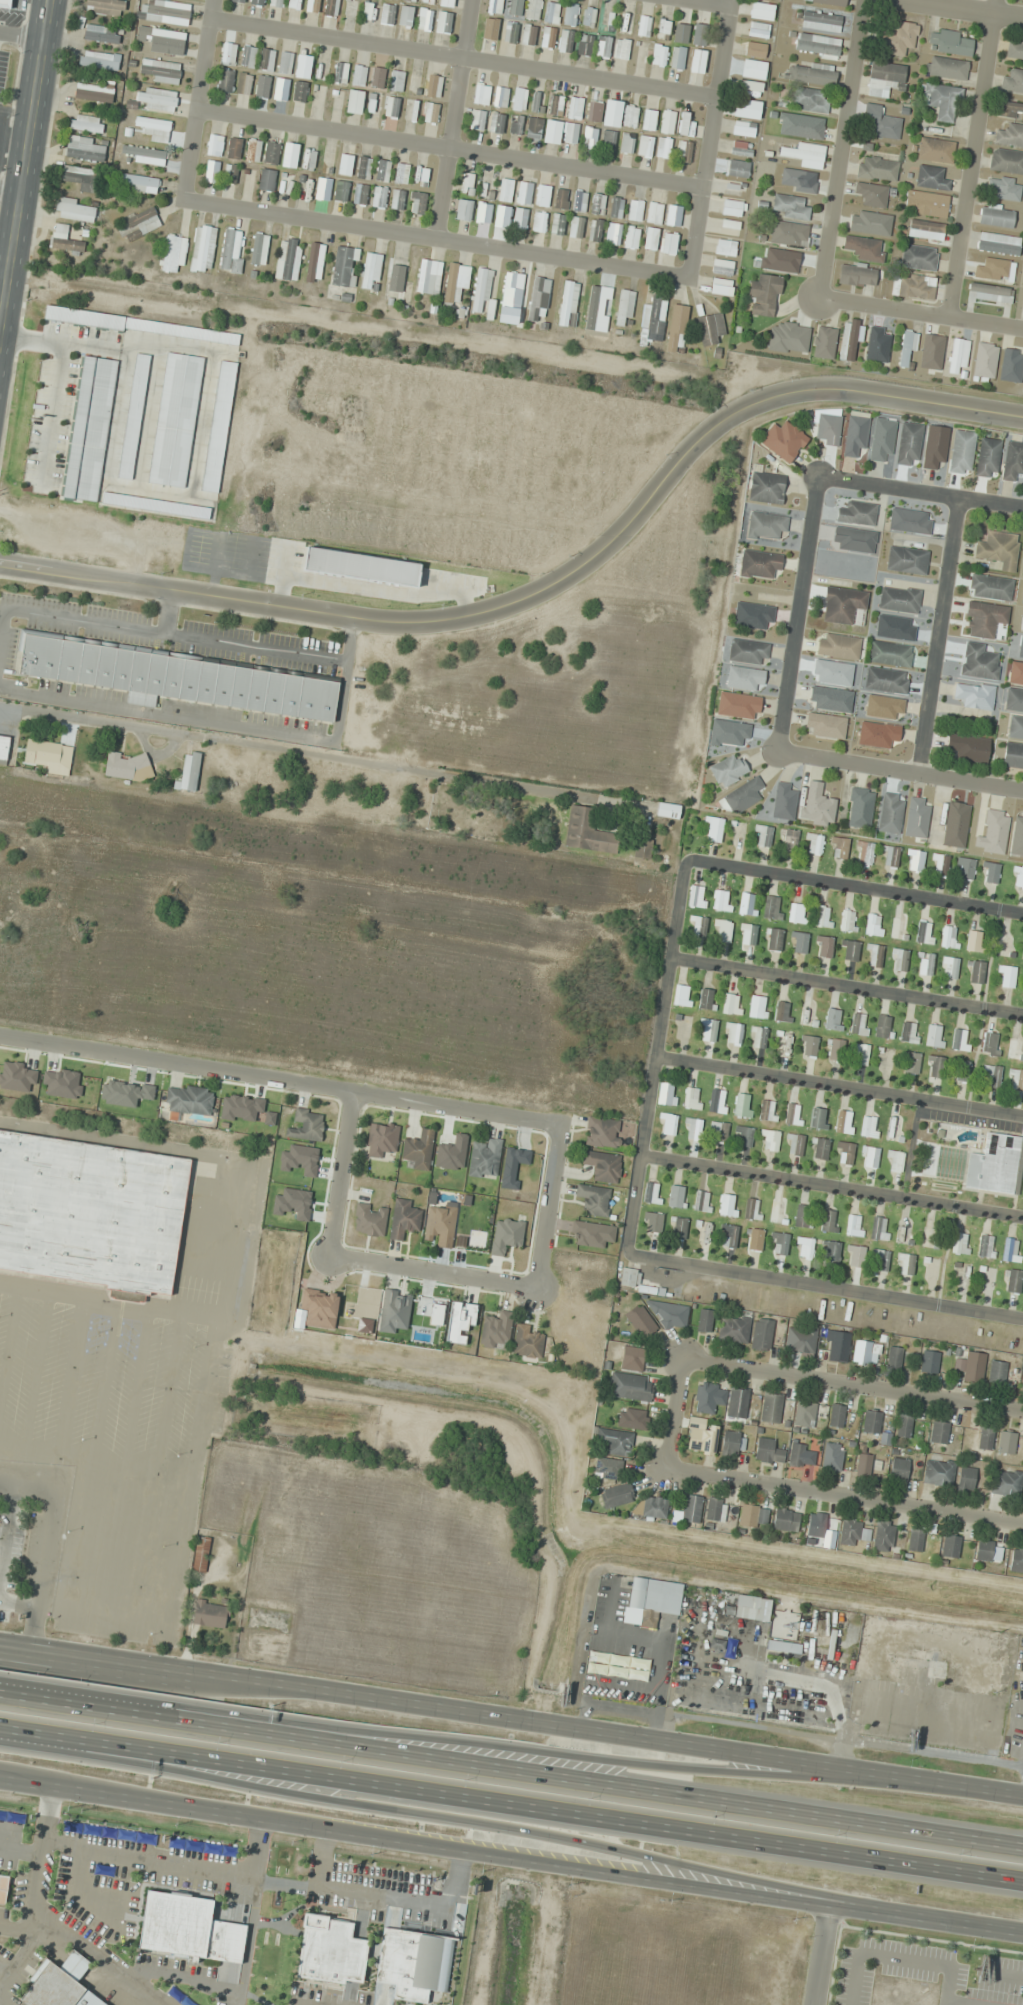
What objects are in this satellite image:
building: (397, 0)
building: (409, 0)
building: (773, 0)
building: (239, 1)
building: (427, 1)
building: (830, 1)
building: (257, 2)
road: (714, 2)
building: (4, 3)
building: (276, 3)
building: (447, 3)
building: (295, 4)
building: (313, 5)
building: (762, 6)
building: (105, 7)
building: (331, 7)
building: (495, 7)
building: (515, 7)
building: (350, 8)
road: (968, 9)
building: (367, 10)
building: (533, 10)
building: (167, 12)
building: (552, 12)
building: (388, 14)
building: (571, 14)
building: (406, 16)
building: (589, 16)
building: (608, 17)
building: (425, 19)
building: (821, 21)
building: (444, 22)
building: (626, 22)
building: (644, 25)
building: (663, 29)
building: (759, 29)
building: (492, 30)
building: (681, 32)
building: (510, 33)
building: (102, 34)
building: (529, 34)
building: (700, 34)
building: (548, 37)
building: (899, 38)
building: (165, 40)
building: (566, 40)
road: (23, 41)
building: (951, 42)
building: (585, 45)
building: (817, 45)
building: (604, 47)
building: (622, 48)
building: (755, 49)
building: (1015, 50)
building: (229, 53)
building: (659, 55)
building: (248, 56)
building: (678, 57)
building: (267, 59)
road: (464, 60)
building: (99, 61)
building: (320, 61)
building: (698, 61)
building: (285, 63)
building: (303, 65)
building: (753, 68)
building: (946, 68)
building: (161, 71)
building: (341, 72)
building: (811, 73)
building: (359, 75)
building: (378, 77)
building: (885, 78)
building: (226, 80)
building: (396, 80)
building: (244, 84)
building: (434, 85)
building: (263, 86)
building: (281, 89)
building: (94, 91)
building: (300, 91)
building: (482, 94)
building: (501, 97)
building: (156, 99)
road: (202, 99)
building: (519, 99)
building: (811, 100)
building: (355, 101)
building: (535, 101)
building: (942, 101)
building: (374, 104)
building: (556, 105)
building: (392, 106)
building: (575, 107)
building: (747, 109)
building: (1011, 109)
building: (594, 111)
building: (431, 112)
building: (612, 114)
building: (630, 116)
building: (478, 119)
building: (649, 119)
road: (455, 120)
building: (668, 122)
building: (881, 122)
building: (87, 123)
building: (497, 123)
building: (516, 124)
building: (686, 124)
building: (801, 126)
building: (534, 127)
building: (744, 128)
building: (155, 129)
building: (554, 130)
building: (571, 133)
building: (1010, 135)
building: (590, 137)
road: (709, 138)
building: (608, 140)
building: (627, 143)
building: (215, 145)
building: (645, 146)
road: (845, 147)
building: (234, 148)
building: (664, 148)
building: (85, 149)
building: (742, 149)
building: (253, 150)
road: (451, 150)
building: (936, 150)
building: (684, 151)
building: (801, 152)
building: (272, 153)
building: (145, 155)
building: (290, 155)
road: (974, 158)
building: (309, 159)
building: (343, 161)
building: (1006, 161)
building: (364, 167)
building: (738, 168)
building: (877, 169)
building: (383, 170)
building: (212, 171)
building: (230, 173)
building: (402, 173)
building: (421, 176)
building: (81, 177)
building: (931, 178)
building: (267, 179)
road: (26, 180)
building: (796, 181)
building: (286, 182)
building: (140, 183)
building: (468, 184)
building: (323, 188)
building: (1004, 188)
building: (341, 190)
building: (506, 190)
building: (734, 190)
road: (12, 192)
building: (524, 192)
building: (361, 193)
building: (872, 194)
building: (543, 195)
building: (379, 197)
building: (398, 199)
building: (561, 199)
building: (580, 201)
building: (418, 202)
building: (927, 203)
building: (598, 204)
building: (790, 206)
building: (616, 207)
building: (733, 208)
building: (75, 209)
building: (464, 209)
building: (635, 210)
building: (484, 212)
building: (654, 213)
building: (673, 215)
building: (996, 215)
building: (502, 216)
building: (520, 219)
building: (144, 220)
building: (540, 222)
building: (870, 222)
building: (558, 224)
building: (576, 227)
building: (729, 227)
building: (596, 230)
building: (926, 230)
building: (613, 233)
building: (789, 233)
building: (632, 236)
building: (651, 238)
building: (66, 240)
road: (439, 241)
building: (670, 243)
building: (998, 243)
building: (725, 247)
building: (203, 248)
building: (865, 248)
building: (259, 249)
building: (233, 251)
building: (174, 254)
building: (919, 257)
building: (288, 258)
building: (315, 262)
building: (345, 266)
building: (723, 267)
building: (371, 270)
building: (995, 270)
road: (6, 274)
building: (857, 275)
building: (429, 276)
building: (397, 279)
building: (456, 281)
building: (721, 283)
building: (913, 286)
building: (482, 288)
building: (513, 290)
building: (990, 293)
building: (765, 295)
building: (539, 297)
building: (568, 303)
building: (599, 305)
building: (625, 306)
road: (922, 312)
building: (654, 320)
building: (677, 327)
building: (710, 328)
building: (788, 338)
building: (851, 340)
building: (824, 342)
building: (878, 344)
building: (959, 356)
building: (983, 358)
building: (1011, 365)
building: (828, 429)
building: (855, 434)
building: (882, 440)
building: (784, 441)
building: (909, 443)
building: (935, 450)
building: (962, 452)
building: (988, 457)
building: (1013, 460)
building: (767, 486)
road: (919, 490)
building: (857, 512)
building: (910, 521)
building: (767, 526)
building: (854, 539)
building: (999, 549)
building: (907, 560)
building: (760, 564)
road: (544, 587)
building: (991, 587)
building: (900, 599)
building: (844, 606)
road: (797, 611)
building: (754, 616)
building: (985, 619)
building: (896, 627)
road: (938, 634)
building: (838, 646)
building: (1021, 648)
building: (749, 652)
building: (890, 653)
building: (832, 672)
building: (1016, 673)
building: (179, 676)
building: (745, 678)
building: (887, 680)
building: (975, 695)
building: (831, 699)
building: (1014, 700)
building: (739, 705)
building: (885, 707)
building: (826, 725)
building: (1016, 727)
building: (730, 733)
building: (878, 734)
building: (969, 747)
building: (4, 748)
road: (323, 754)
building: (50, 755)
building: (1013, 755)
building: (128, 766)
road: (900, 768)
building: (729, 770)
building: (191, 775)
building: (743, 796)
building: (784, 802)
building: (819, 805)
building: (861, 808)
building: (668, 810)
building: (890, 816)
building: (918, 817)
building: (956, 824)
building: (714, 829)
building: (587, 832)
building: (994, 833)
building: (763, 835)
building: (1017, 836)
building: (738, 839)
building: (790, 839)
building: (814, 843)
building: (841, 848)
building: (643, 849)
building: (865, 852)
building: (891, 856)
building: (915, 860)
building: (940, 864)
building: (965, 868)
building: (990, 872)
building: (1018, 877)
road: (857, 886)
building: (694, 895)
building: (722, 900)
building: (746, 903)
building: (772, 907)
building: (797, 913)
building: (823, 916)
building: (847, 920)
building: (874, 925)
building: (697, 926)
building: (896, 927)
building: (722, 930)
building: (925, 933)
building: (948, 937)
building: (774, 939)
building: (976, 940)
building: (799, 942)
building: (823, 946)
building: (849, 950)
building: (875, 956)
building: (899, 960)
building: (925, 964)
building: (951, 968)
building: (976, 971)
building: (1006, 976)
road: (847, 985)
building: (682, 995)
building: (707, 999)
building: (732, 1004)
building: (758, 1007)
building: (783, 1011)
building: (834, 1019)
building: (859, 1024)
building: (883, 1026)
building: (708, 1030)
building: (909, 1032)
building: (733, 1033)
building: (935, 1036)
building: (758, 1037)
building: (991, 1043)
building: (808, 1045)
building: (836, 1049)
road: (654, 1053)
building: (859, 1054)
building: (911, 1063)
building: (935, 1066)
building: (963, 1070)
building: (991, 1076)
building: (1017, 1078)
road: (280, 1079)
road: (838, 1087)
building: (667, 1094)
building: (692, 1098)
building: (189, 1100)
building: (717, 1101)
building: (743, 1105)
building: (767, 1110)
building: (792, 1114)
building: (819, 1118)
building: (668, 1123)
building: (845, 1123)
building: (307, 1126)
building: (869, 1127)
building: (693, 1128)
building: (891, 1129)
building: (603, 1132)
building: (719, 1132)
building: (743, 1136)
building: (382, 1139)
building: (796, 1143)
building: (819, 1148)
building: (419, 1149)
building: (845, 1151)
building: (870, 1157)
building: (485, 1159)
building: (895, 1160)
building: (996, 1164)
building: (603, 1166)
road: (340, 1171)
road: (831, 1187)
building: (651, 1193)
building: (676, 1196)
building: (595, 1200)
building: (702, 1201)
road: (548, 1204)
building: (729, 1205)
building: (752, 1209)
building: (91, 1214)
building: (802, 1216)
building: (370, 1219)
building: (403, 1219)
building: (829, 1221)
building: (653, 1222)
building: (440, 1225)
building: (854, 1225)
building: (679, 1228)
building: (879, 1228)
building: (506, 1235)
building: (728, 1236)
building: (755, 1240)
building: (780, 1243)
building: (960, 1243)
building: (986, 1246)
building: (803, 1247)
building: (1010, 1250)
building: (831, 1252)
building: (854, 1256)
building: (880, 1260)
building: (905, 1264)
road: (432, 1269)
building: (630, 1277)
building: (1013, 1281)
road: (824, 1286)
building: (394, 1310)
building: (705, 1320)
building: (641, 1321)
building: (460, 1323)
building: (734, 1329)
building: (496, 1330)
building: (762, 1334)
building: (801, 1340)
building: (528, 1341)
building: (837, 1346)
building: (862, 1351)
building: (632, 1358)
building: (894, 1359)
building: (929, 1362)
building: (974, 1367)
building: (997, 1372)
building: (631, 1387)
road: (855, 1390)
building: (705, 1398)
building: (737, 1403)
building: (771, 1408)
building: (805, 1413)
building: (836, 1415)
building: (631, 1418)
road: (680, 1418)
building: (871, 1422)
building: (904, 1425)
building: (939, 1432)
building: (986, 1438)
building: (703, 1439)
building: (615, 1441)
building: (1006, 1442)
building: (733, 1443)
building: (768, 1451)
building: (797, 1455)
building: (832, 1458)
building: (864, 1464)
building: (608, 1468)
building: (899, 1469)
building: (938, 1473)
building: (966, 1479)
building: (1007, 1482)
building: (617, 1495)
road: (848, 1497)
building: (652, 1508)
building: (691, 1508)
building: (716, 1509)
building: (753, 1516)
building: (786, 1520)
building: (816, 1524)
building: (850, 1531)
building: (883, 1536)
building: (916, 1540)
building: (950, 1546)
building: (984, 1550)
building: (201, 1553)
building: (1016, 1560)
building: (653, 1598)
building: (750, 1608)
building: (211, 1613)
building: (721, 1642)
building: (783, 1647)
road: (5, 1649)
building: (843, 1663)
building: (627, 1673)
road: (511, 1720)
road: (574, 1753)
road: (511, 1771)
road: (511, 1805)
road: (482, 1825)
road: (20, 1851)
road: (146, 1857)
road: (511, 1860)
road: (320, 1861)
road: (38, 1873)
building: (2, 1888)
road: (382, 1900)
road: (252, 1911)
building: (185, 1928)
building: (327, 1950)
road: (816, 1956)
road: (96, 1958)
road: (18, 1961)
building: (410, 1966)
road: (6, 1967)
building: (58, 1985)

